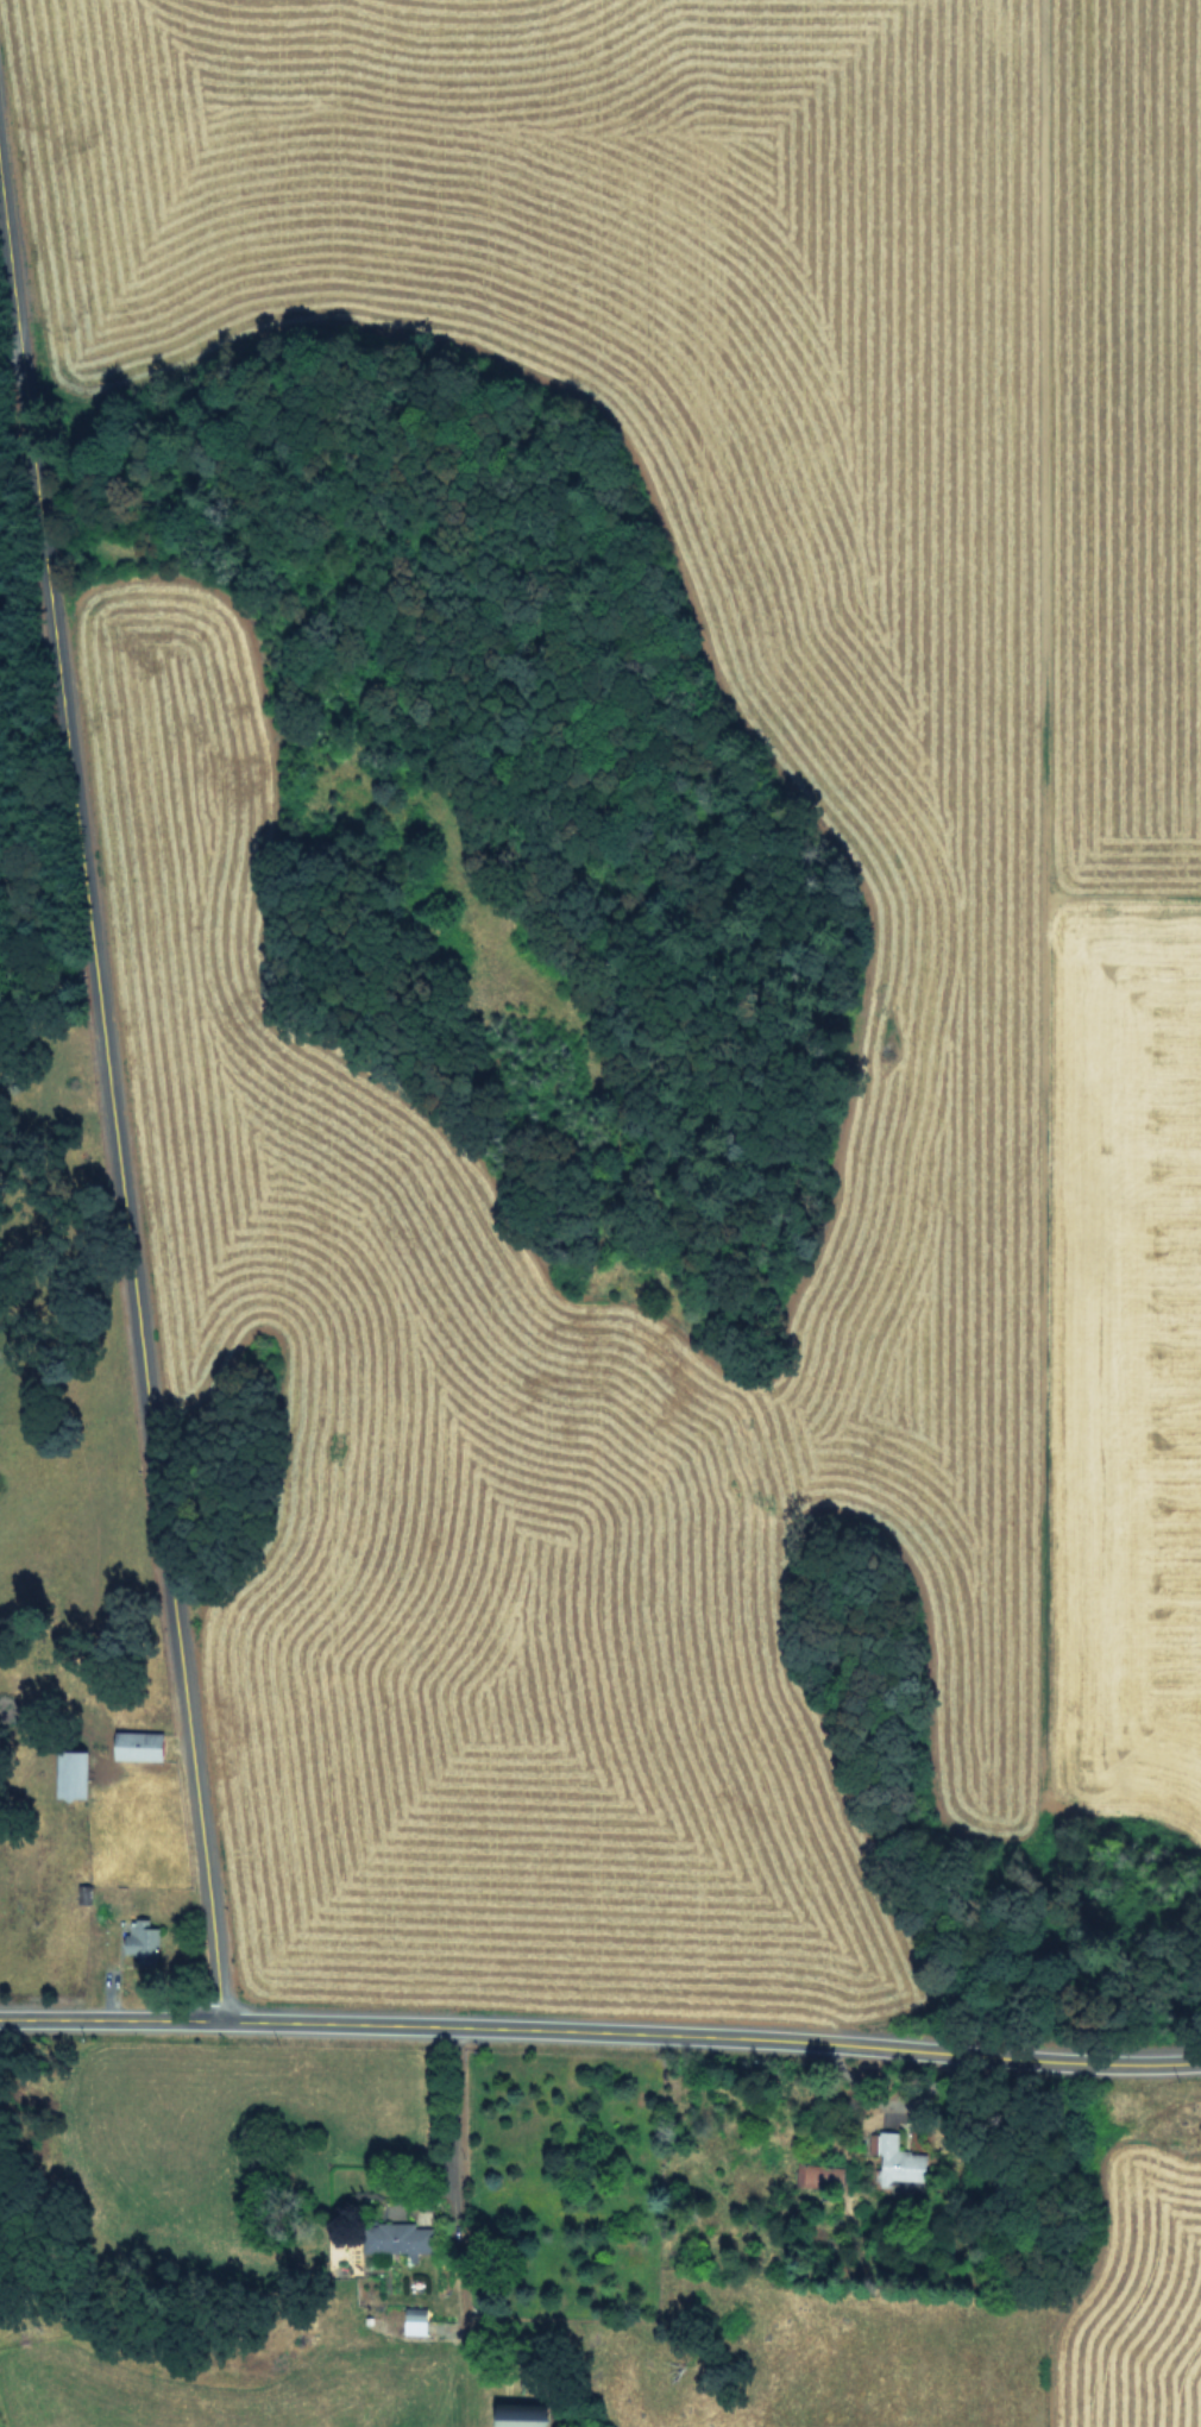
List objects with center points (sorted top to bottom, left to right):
road: (10, 294)
crop: (1007, 1120)
road: (118, 1195)
building: (132, 1744)
building: (64, 1773)
building: (139, 1941)
road: (108, 2018)
road: (642, 2031)
road: (1134, 2061)
road: (445, 2115)
building: (898, 2161)
building: (392, 2238)
building: (411, 2320)
crop: (972, 2324)
crop: (0, 2426)

